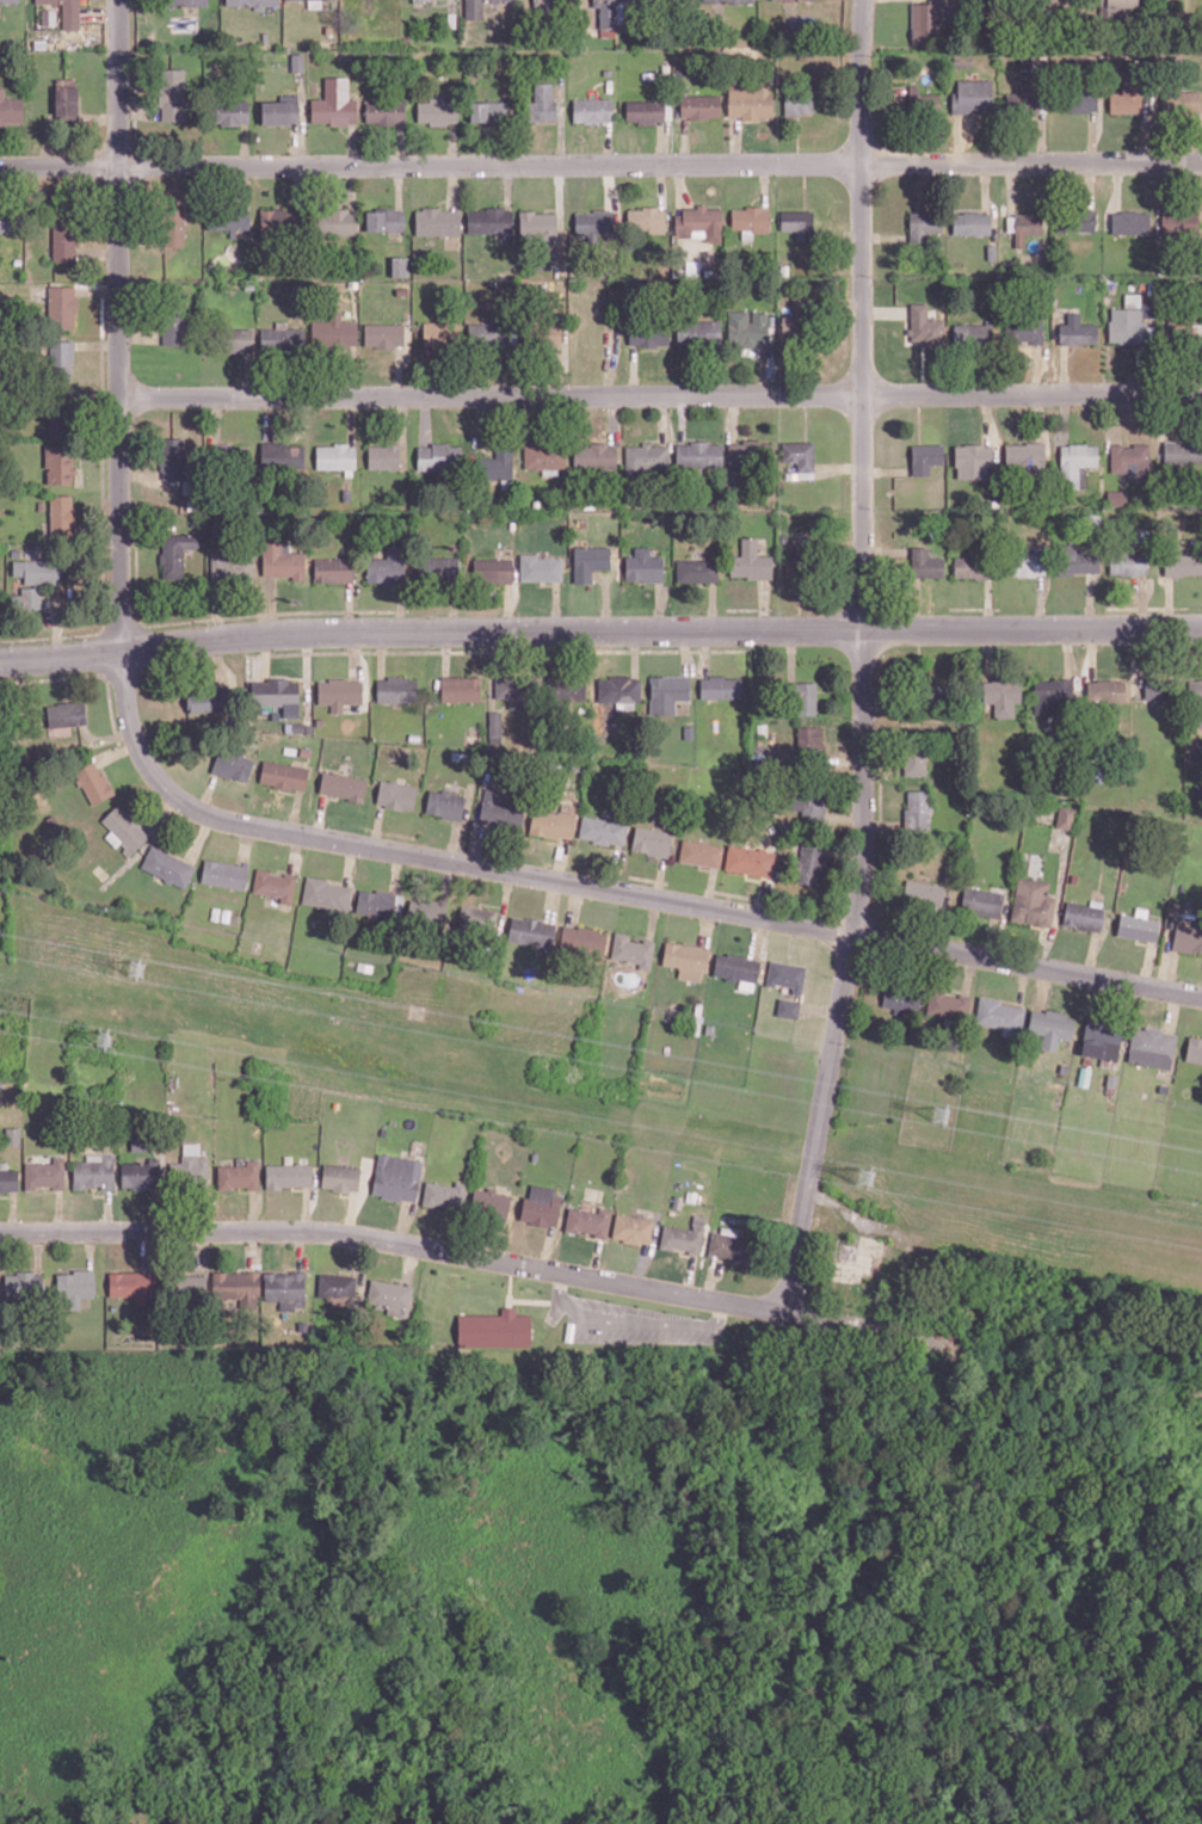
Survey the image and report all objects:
building: (493, 0)
building: (727, 0)
building: (10, 1)
road: (523, 1)
building: (181, 2)
building: (251, 2)
building: (1044, 2)
road: (451, 5)
building: (471, 8)
building: (1112, 8)
building: (544, 11)
building: (69, 12)
road: (100, 12)
building: (605, 12)
building: (924, 21)
building: (264, 37)
building: (297, 62)
building: (606, 70)
building: (173, 93)
building: (1127, 93)
building: (972, 95)
building: (1079, 98)
building: (748, 99)
building: (1022, 99)
building: (923, 100)
building: (1181, 100)
building: (68, 101)
building: (796, 101)
building: (538, 104)
building: (698, 105)
building: (10, 106)
building: (437, 109)
building: (593, 109)
building: (282, 110)
road: (302, 110)
building: (333, 110)
building: (486, 110)
building: (230, 111)
building: (384, 111)
building: (643, 111)
road: (137, 112)
road: (561, 116)
road: (100, 118)
road: (1043, 128)
road: (1147, 131)
road: (1092, 136)
road: (799, 138)
road: (957, 138)
road: (684, 140)
road: (735, 140)
road: (662, 142)
road: (297, 143)
road: (351, 143)
road: (400, 143)
road: (451, 143)
road: (608, 143)
road: (244, 144)
street lamp: (777, 149)
road: (600, 164)
road: (507, 184)
road: (661, 184)
road: (682, 184)
road: (765, 184)
road: (1091, 184)
road: (611, 185)
road: (805, 185)
road: (1117, 185)
road: (351, 186)
road: (399, 186)
road: (452, 186)
road: (1011, 186)
road: (559, 198)
road: (987, 201)
building: (648, 217)
building: (752, 217)
building: (11, 218)
building: (229, 218)
building: (386, 218)
building: (491, 218)
building: (438, 220)
building: (701, 220)
building: (1075, 220)
building: (282, 221)
building: (335, 221)
building: (596, 221)
building: (1130, 221)
building: (1178, 221)
building: (970, 222)
building: (540, 223)
building: (799, 223)
building: (923, 223)
building: (174, 224)
building: (1027, 226)
road: (839, 234)
building: (66, 235)
road: (884, 236)
road: (140, 240)
road: (100, 252)
street lamp: (875, 277)
road: (98, 289)
building: (802, 302)
road: (840, 303)
building: (63, 306)
building: (174, 319)
road: (119, 323)
building: (1133, 325)
building: (747, 326)
building: (337, 329)
building: (795, 329)
building: (1024, 329)
building: (491, 331)
building: (545, 331)
building: (651, 331)
building: (699, 331)
building: (1077, 331)
building: (1177, 331)
building: (386, 334)
building: (443, 334)
building: (974, 334)
road: (140, 337)
building: (233, 338)
building: (284, 338)
road: (98, 345)
building: (62, 357)
road: (610, 362)
road: (1036, 369)
road: (1064, 369)
road: (634, 370)
road: (763, 370)
road: (400, 371)
road: (430, 371)
road: (565, 371)
road: (248, 374)
street lamp: (1052, 380)
street lamp: (569, 381)
street lamp: (899, 381)
street lamp: (158, 383)
street lamp: (362, 383)
road: (660, 395)
building: (64, 411)
road: (733, 417)
road: (806, 417)
road: (1040, 417)
road: (1064, 417)
road: (1115, 417)
road: (217, 418)
road: (269, 418)
road: (616, 418)
road: (682, 418)
road: (919, 418)
road: (987, 418)
road: (352, 419)
road: (426, 419)
road: (664, 419)
road: (403, 430)
road: (739, 436)
road: (994, 443)
building: (1181, 452)
building: (701, 454)
building: (751, 454)
building: (801, 454)
building: (229, 455)
building: (283, 455)
building: (338, 455)
building: (598, 455)
building: (386, 456)
building: (442, 456)
building: (547, 456)
building: (924, 456)
building: (1025, 456)
building: (647, 457)
building: (174, 458)
building: (1130, 458)
building: (972, 461)
building: (499, 462)
building: (1074, 463)
building: (60, 464)
road: (839, 468)
road: (884, 470)
road: (141, 474)
building: (1116, 495)
building: (63, 513)
building: (17, 551)
building: (179, 551)
road: (884, 551)
building: (799, 556)
building: (284, 560)
building: (752, 560)
building: (1074, 560)
building: (592, 561)
building: (1181, 561)
building: (924, 562)
building: (1127, 562)
building: (1024, 563)
building: (646, 565)
building: (389, 566)
building: (972, 566)
building: (233, 567)
building: (440, 567)
building: (543, 567)
building: (335, 569)
building: (494, 569)
building: (699, 569)
building: (41, 579)
road: (606, 602)
road: (1089, 602)
road: (1142, 602)
road: (919, 603)
road: (1040, 603)
road: (1169, 603)
road: (455, 604)
road: (659, 604)
road: (764, 604)
road: (987, 604)
road: (557, 605)
road: (714, 605)
road: (351, 606)
road: (401, 606)
road: (507, 606)
road: (1145, 606)
road: (220, 610)
road: (312, 610)
road: (273, 611)
street lamp: (1053, 611)
street lamp: (519, 612)
road: (56, 629)
road: (599, 629)
road: (54, 636)
road: (671, 649)
road: (370, 651)
road: (446, 651)
road: (686, 651)
road: (707, 652)
road: (1067, 652)
road: (382, 653)
road: (636, 653)
road: (1091, 653)
road: (356, 654)
road: (791, 654)
road: (266, 655)
road: (863, 659)
road: (1136, 661)
road: (222, 663)
road: (82, 674)
road: (307, 676)
road: (66, 677)
building: (722, 686)
building: (462, 688)
building: (567, 688)
building: (1159, 688)
building: (399, 689)
building: (519, 690)
road: (840, 690)
building: (1104, 690)
building: (623, 691)
building: (927, 691)
building: (340, 692)
building: (670, 692)
building: (279, 694)
building: (1049, 694)
building: (1195, 694)
building: (1000, 695)
building: (801, 696)
building: (214, 698)
building: (68, 713)
building: (320, 721)
building: (298, 726)
building: (309, 728)
building: (690, 731)
road: (91, 734)
building: (415, 737)
road: (109, 738)
building: (808, 744)
road: (116, 751)
building: (306, 751)
building: (913, 753)
building: (458, 756)
road: (844, 759)
building: (233, 764)
building: (285, 774)
building: (94, 782)
building: (344, 784)
road: (207, 791)
building: (397, 794)
road: (331, 797)
building: (809, 801)
building: (446, 803)
building: (916, 809)
building: (501, 811)
road: (161, 812)
road: (295, 812)
street lamp: (177, 813)
road: (320, 815)
road: (476, 815)
building: (1064, 815)
road: (844, 817)
building: (555, 820)
road: (377, 825)
road: (881, 825)
building: (125, 828)
building: (604, 830)
road: (199, 838)
road: (456, 840)
building: (654, 840)
road: (246, 844)
road: (295, 852)
building: (701, 852)
road: (138, 854)
street lamp: (359, 857)
road: (560, 858)
building: (748, 859)
building: (808, 862)
road: (349, 863)
building: (169, 865)
road: (705, 868)
road: (395, 870)
building: (226, 873)
building: (759, 875)
road: (660, 876)
road: (645, 877)
road: (754, 879)
building: (276, 885)
street lamp: (516, 885)
road: (606, 887)
road: (710, 887)
building: (923, 892)
building: (326, 893)
road: (733, 894)
road: (763, 896)
road: (551, 899)
road: (1058, 899)
road: (505, 900)
building: (981, 900)
building: (1033, 900)
building: (377, 902)
road: (574, 902)
building: (429, 912)
building: (1083, 914)
road: (654, 917)
building: (476, 918)
street lamp: (719, 922)
road: (705, 925)
building: (1136, 926)
building: (534, 931)
road: (757, 936)
building: (585, 938)
building: (1186, 938)
road: (791, 941)
building: (635, 949)
road: (1092, 953)
building: (689, 959)
road: (1147, 963)
building: (736, 967)
power tower: (136, 968)
road: (1166, 969)
building: (784, 974)
road: (968, 974)
street lamp: (832, 976)
road: (1022, 984)
road: (1042, 987)
road: (805, 991)
building: (901, 997)
road: (1010, 1000)
building: (948, 1004)
building: (788, 1007)
road: (819, 1009)
road: (1171, 1011)
building: (998, 1013)
building: (1049, 1027)
building: (710, 1029)
building: (1101, 1037)
power tower: (106, 1045)
building: (1149, 1046)
building: (1194, 1049)
power tower: (942, 1116)
building: (12, 1136)
building: (140, 1140)
building: (191, 1166)
building: (95, 1171)
building: (142, 1172)
building: (47, 1173)
building: (239, 1175)
building: (289, 1175)
building: (343, 1176)
building: (397, 1177)
building: (10, 1179)
power tower: (864, 1179)
building: (448, 1194)
building: (493, 1201)
building: (542, 1206)
building: (590, 1220)
building: (633, 1228)
building: (683, 1235)
road: (437, 1243)
building: (731, 1245)
building: (856, 1258)
building: (76, 1284)
building: (135, 1284)
building: (185, 1284)
building: (338, 1284)
building: (239, 1286)
building: (25, 1287)
building: (288, 1288)
building: (392, 1296)
road: (630, 1321)
building: (494, 1327)

